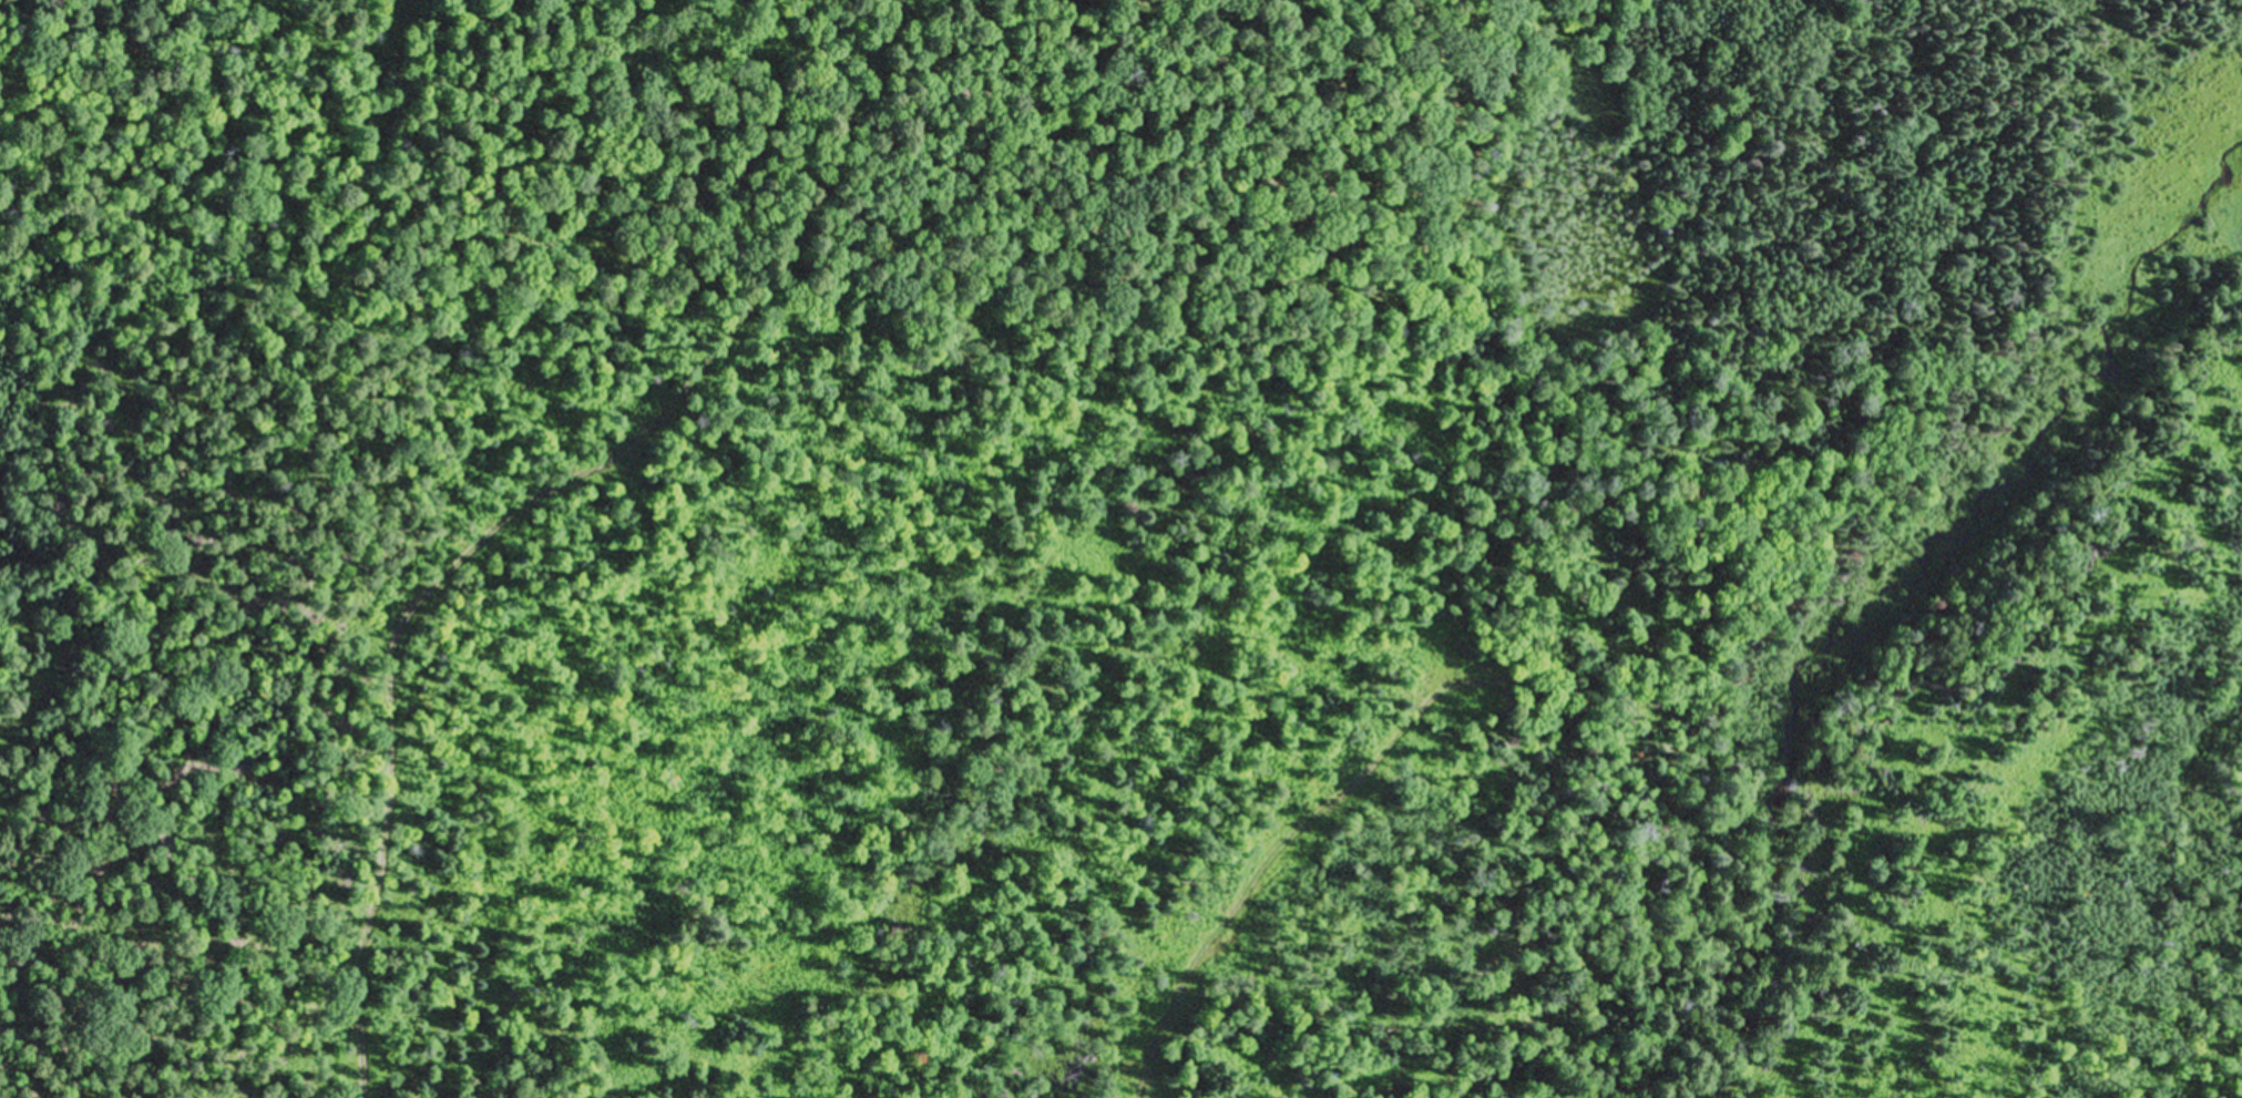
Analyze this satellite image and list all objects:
road: (519, 197)
road: (457, 609)

